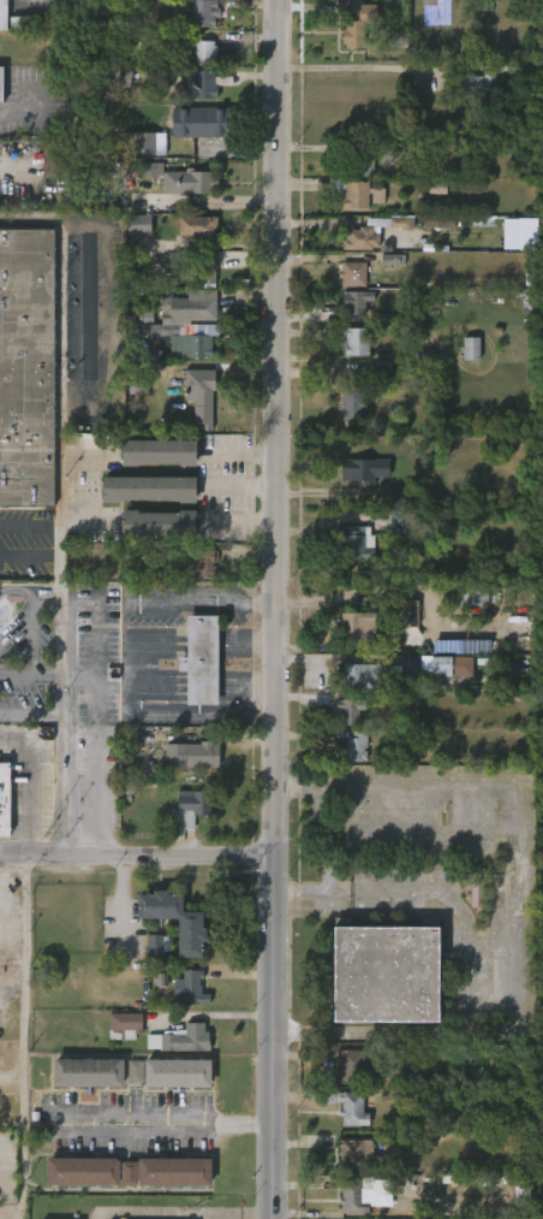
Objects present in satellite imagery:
building: (483, 5)
building: (203, 12)
building: (25, 13)
building: (2, 14)
building: (356, 25)
building: (204, 53)
road: (348, 67)
building: (478, 83)
building: (1, 84)
building: (204, 85)
road: (28, 117)
building: (201, 122)
building: (143, 142)
building: (52, 158)
building: (356, 162)
building: (196, 182)
building: (436, 188)
building: (353, 193)
building: (138, 224)
building: (201, 227)
building: (369, 233)
building: (393, 259)
building: (205, 268)
building: (353, 274)
building: (533, 277)
building: (354, 301)
building: (193, 324)
building: (356, 342)
building: (471, 349)
building: (26, 367)
road: (60, 385)
building: (358, 390)
building: (201, 393)
building: (159, 452)
road: (84, 457)
building: (364, 469)
road: (240, 486)
building: (149, 489)
road: (83, 501)
road: (243, 522)
building: (399, 522)
building: (159, 523)
building: (357, 544)
building: (203, 566)
building: (472, 597)
road: (169, 603)
road: (278, 609)
building: (405, 613)
building: (354, 625)
building: (461, 646)
building: (201, 662)
building: (446, 665)
road: (60, 668)
building: (365, 675)
building: (350, 706)
road: (168, 710)
road: (50, 716)
building: (353, 746)
building: (190, 756)
road: (60, 786)
road: (494, 788)
building: (4, 797)
building: (196, 801)
road: (138, 856)
building: (477, 895)
road: (123, 903)
building: (191, 922)
building: (155, 945)
road: (467, 970)
building: (388, 971)
building: (160, 980)
building: (192, 988)
building: (121, 1026)
building: (180, 1038)
building: (350, 1067)
building: (89, 1072)
building: (172, 1072)
building: (347, 1108)
road: (172, 1124)
building: (352, 1154)
building: (83, 1171)
building: (167, 1172)
building: (521, 1193)
building: (353, 1197)
road: (185, 1211)

